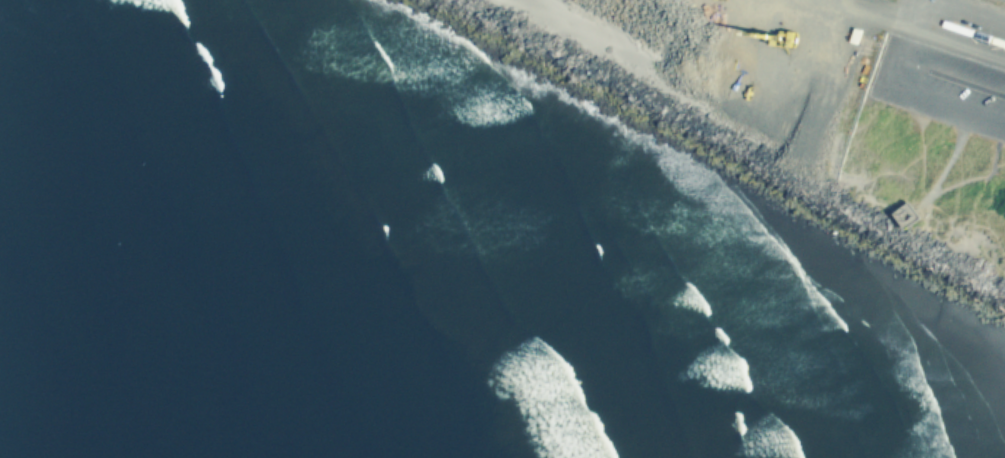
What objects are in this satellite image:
road: (863, 11)
road: (967, 12)
road: (954, 53)
parking lot: (947, 64)
road: (903, 92)
road: (924, 154)
road: (952, 158)
road: (998, 169)
road: (979, 178)
building: (907, 214)

